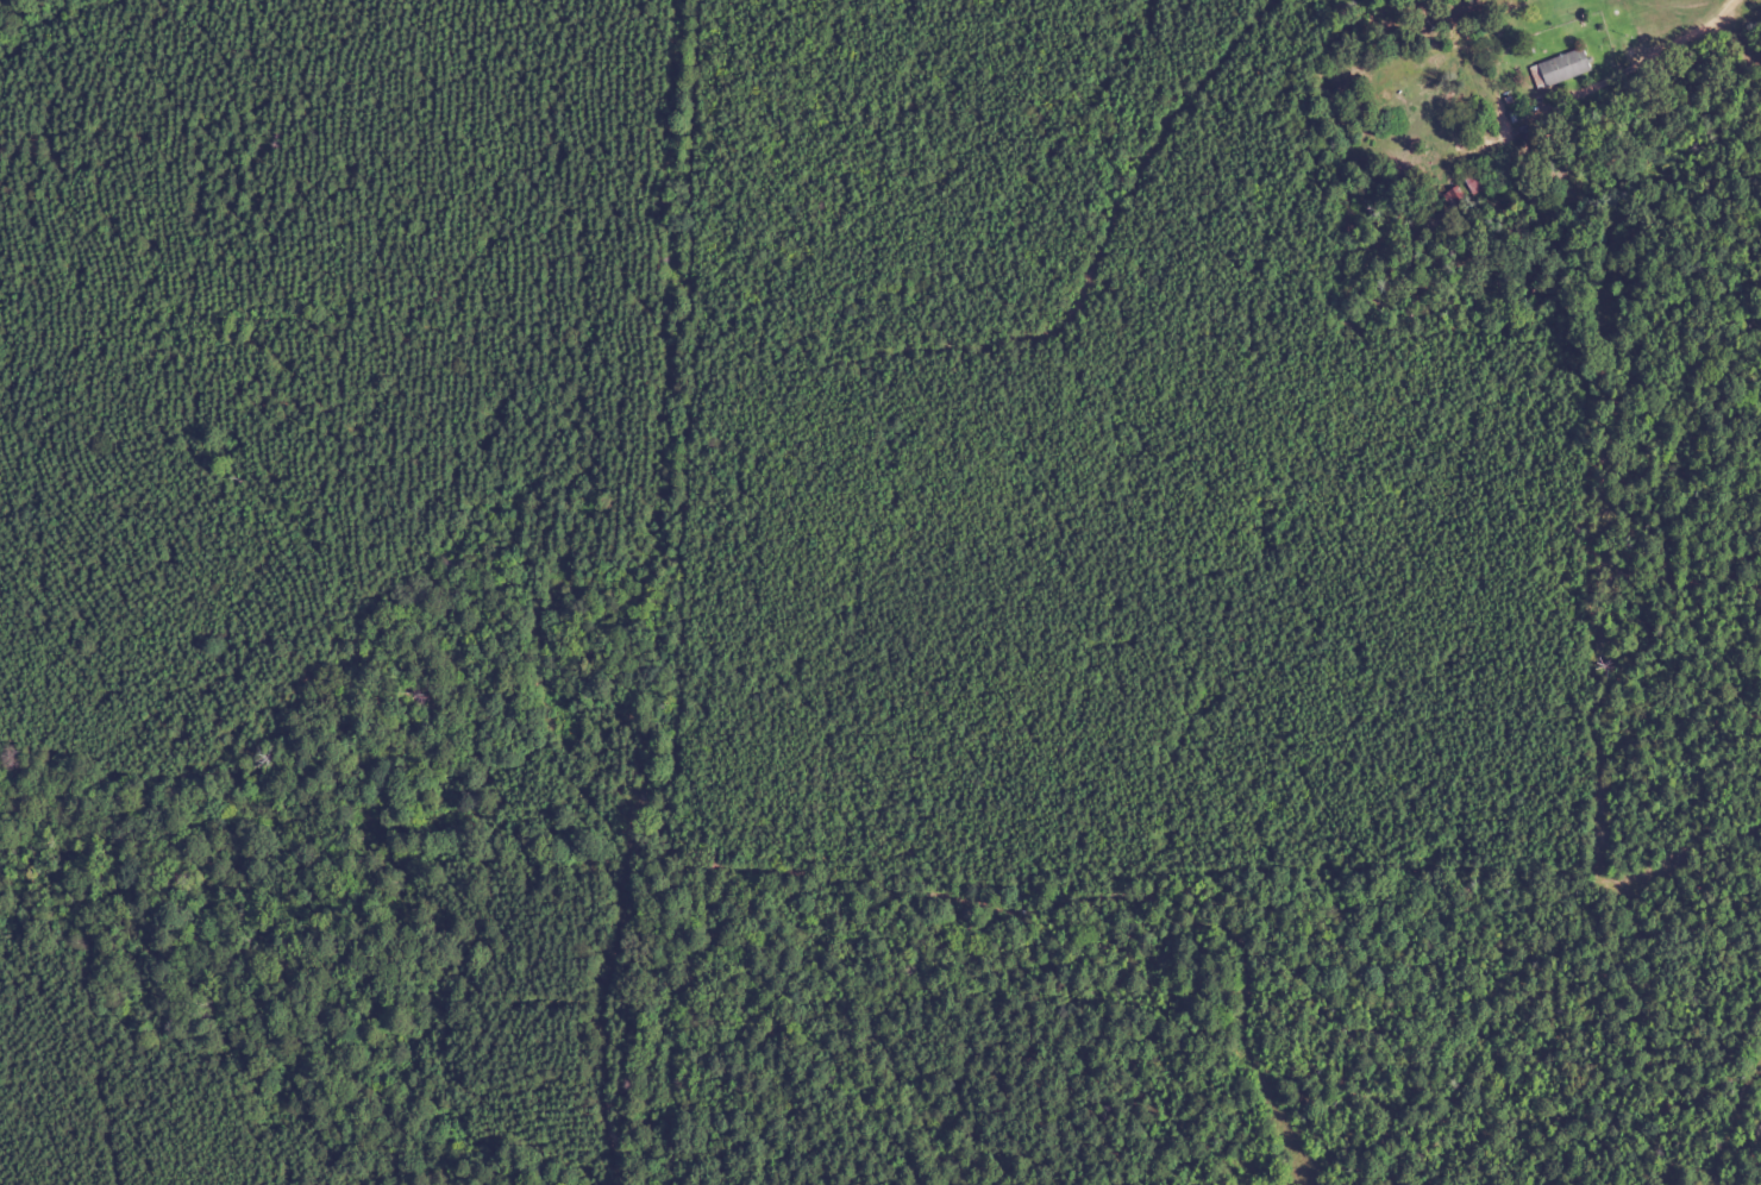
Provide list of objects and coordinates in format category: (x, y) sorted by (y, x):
road: (1687, 43)

